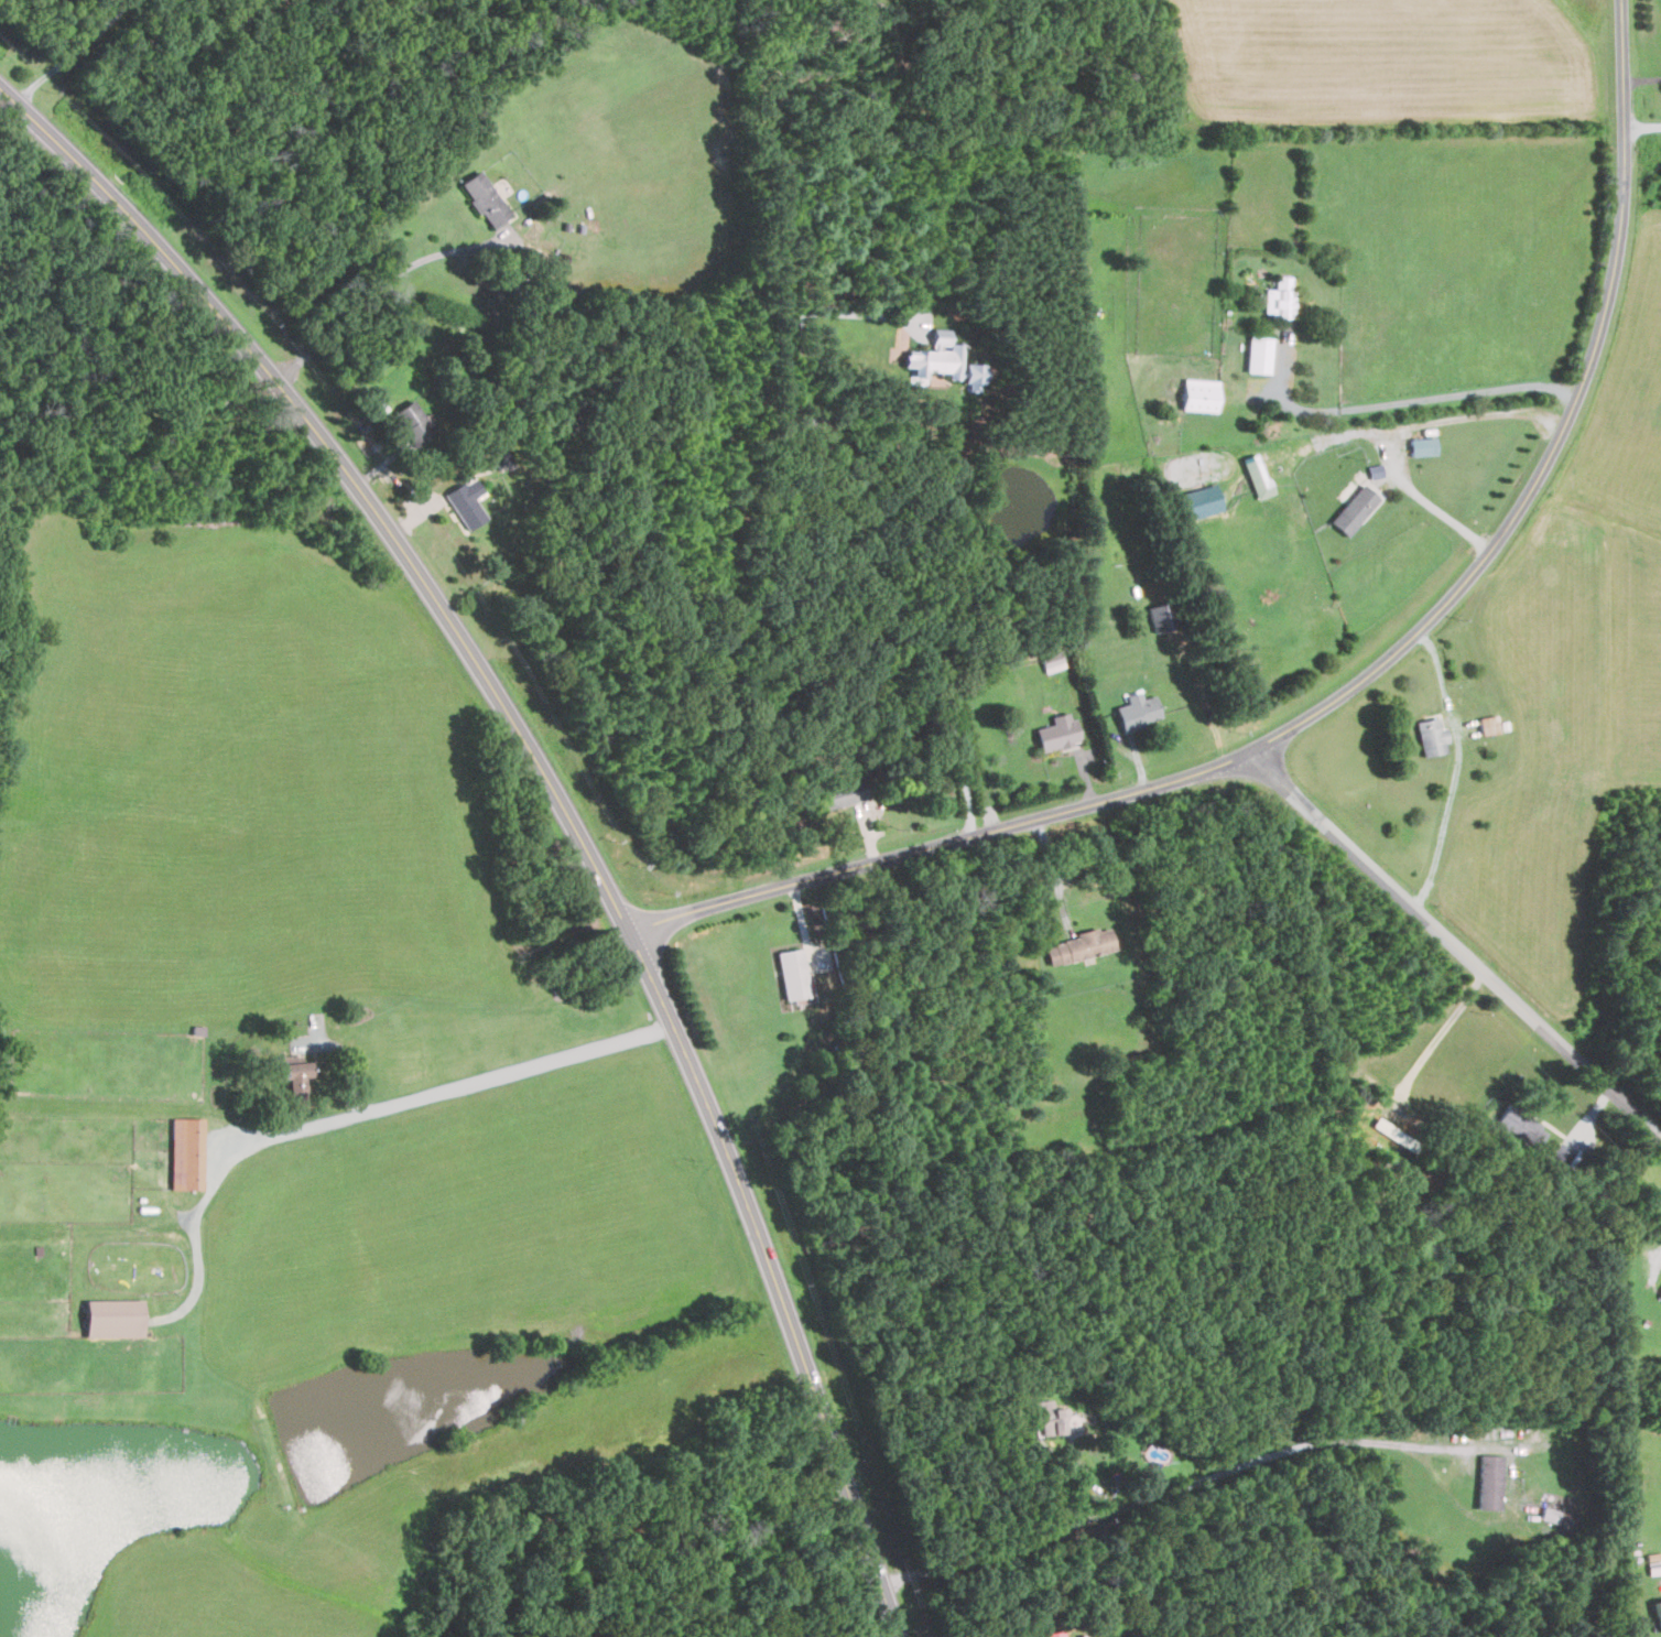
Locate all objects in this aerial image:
road: (75, 53)
road: (1641, 127)
building: (485, 198)
road: (376, 291)
building: (1280, 297)
building: (1259, 355)
building: (944, 362)
building: (1199, 394)
road: (1414, 395)
building: (413, 423)
building: (1423, 446)
building: (502, 458)
building: (1376, 470)
building: (1257, 476)
building: (1202, 501)
building: (466, 502)
building: (1354, 510)
road: (1441, 513)
road: (842, 539)
building: (1163, 616)
building: (1052, 662)
road: (1360, 687)
building: (1138, 709)
building: (1489, 724)
building: (1057, 730)
building: (1431, 736)
road: (1457, 773)
building: (844, 793)
road: (556, 799)
road: (1052, 871)
building: (1083, 944)
road: (1458, 953)
building: (793, 971)
building: (292, 1072)
road: (390, 1104)
building: (1523, 1124)
building: (186, 1152)
building: (1660, 1297)
building: (113, 1318)
building: (1049, 1418)
building: (1490, 1479)
road: (1177, 1487)
building: (1658, 1611)
building: (1054, 1634)

